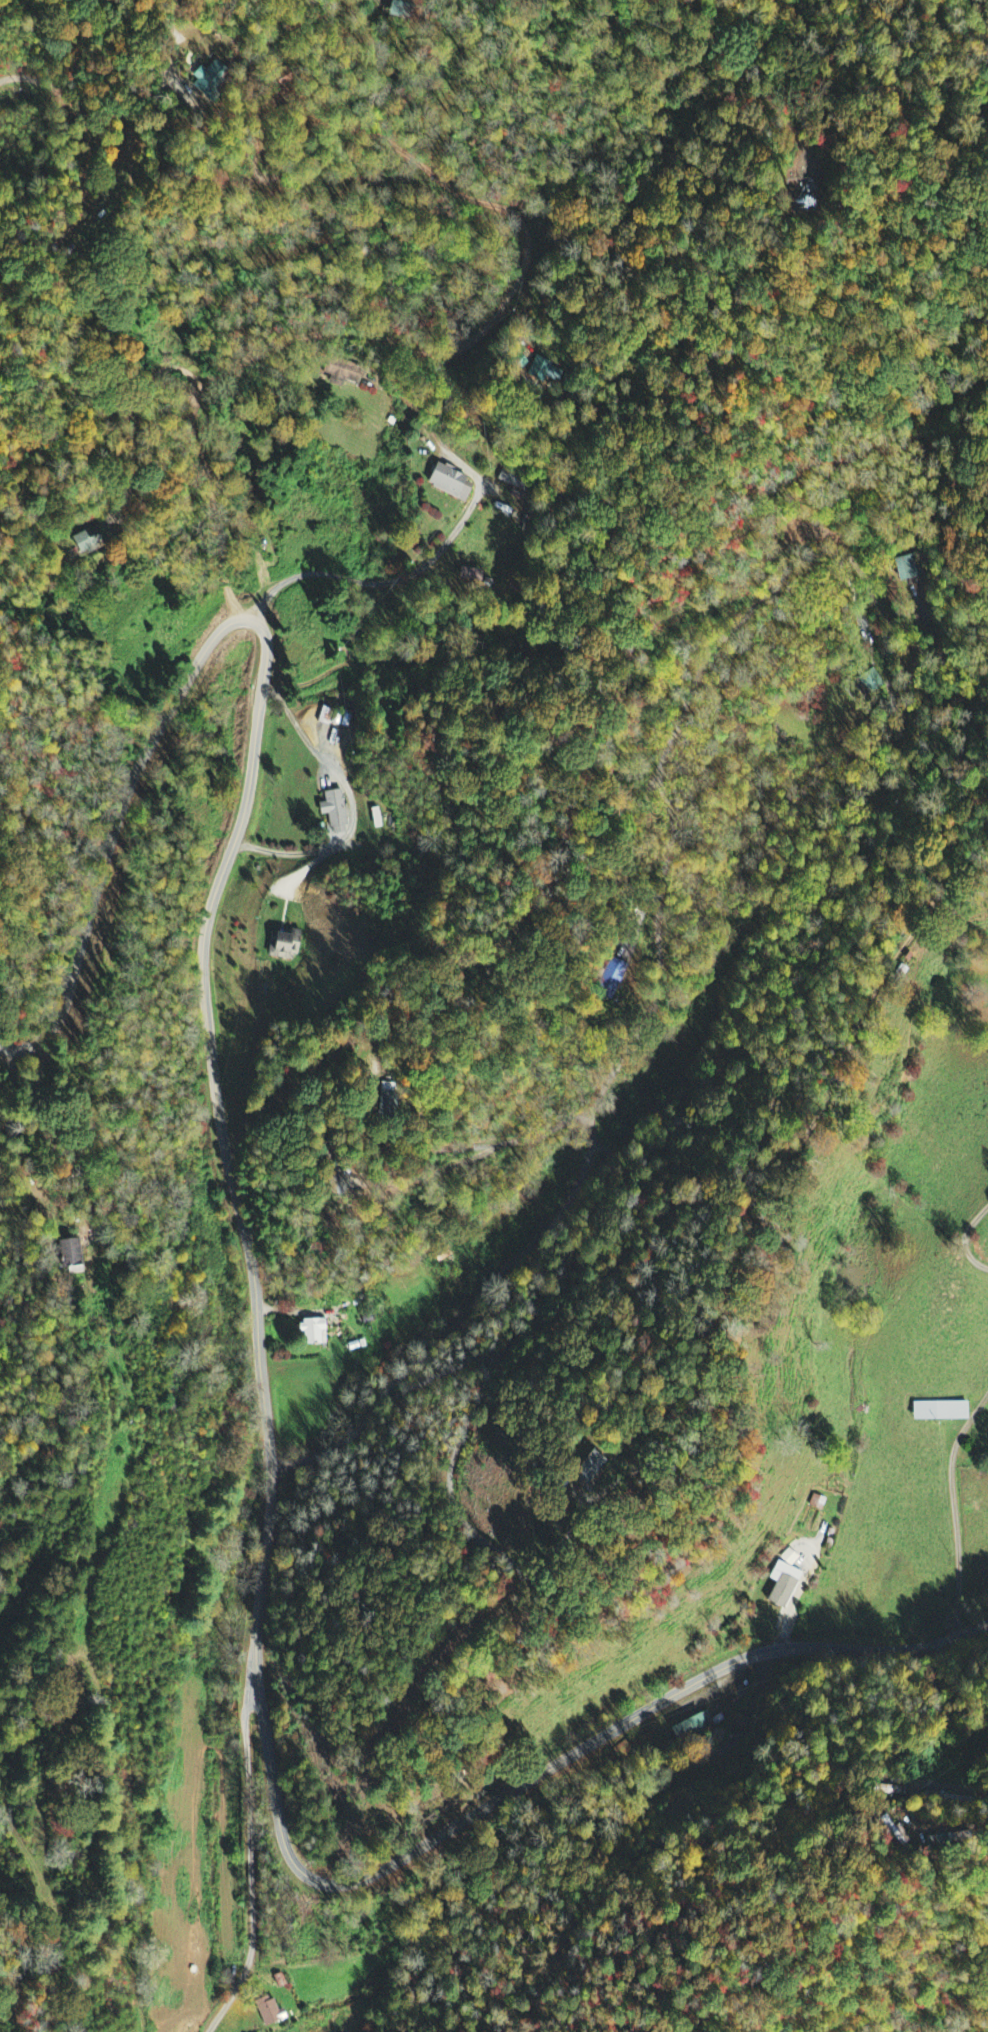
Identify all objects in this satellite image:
building: (402, 9)
building: (212, 80)
road: (84, 179)
road: (433, 358)
building: (542, 373)
building: (343, 375)
building: (446, 483)
building: (86, 541)
building: (904, 569)
building: (334, 718)
building: (333, 811)
road: (113, 820)
building: (283, 945)
building: (611, 980)
road: (8, 1048)
road: (697, 1197)
road: (27, 1199)
road: (964, 1236)
building: (70, 1258)
building: (310, 1333)
building: (937, 1412)
road: (568, 1461)
building: (573, 1468)
road: (953, 1510)
building: (789, 1558)
building: (781, 1585)
road: (260, 1616)
building: (693, 1728)
road: (251, 1850)
building: (277, 1981)
building: (266, 2012)

